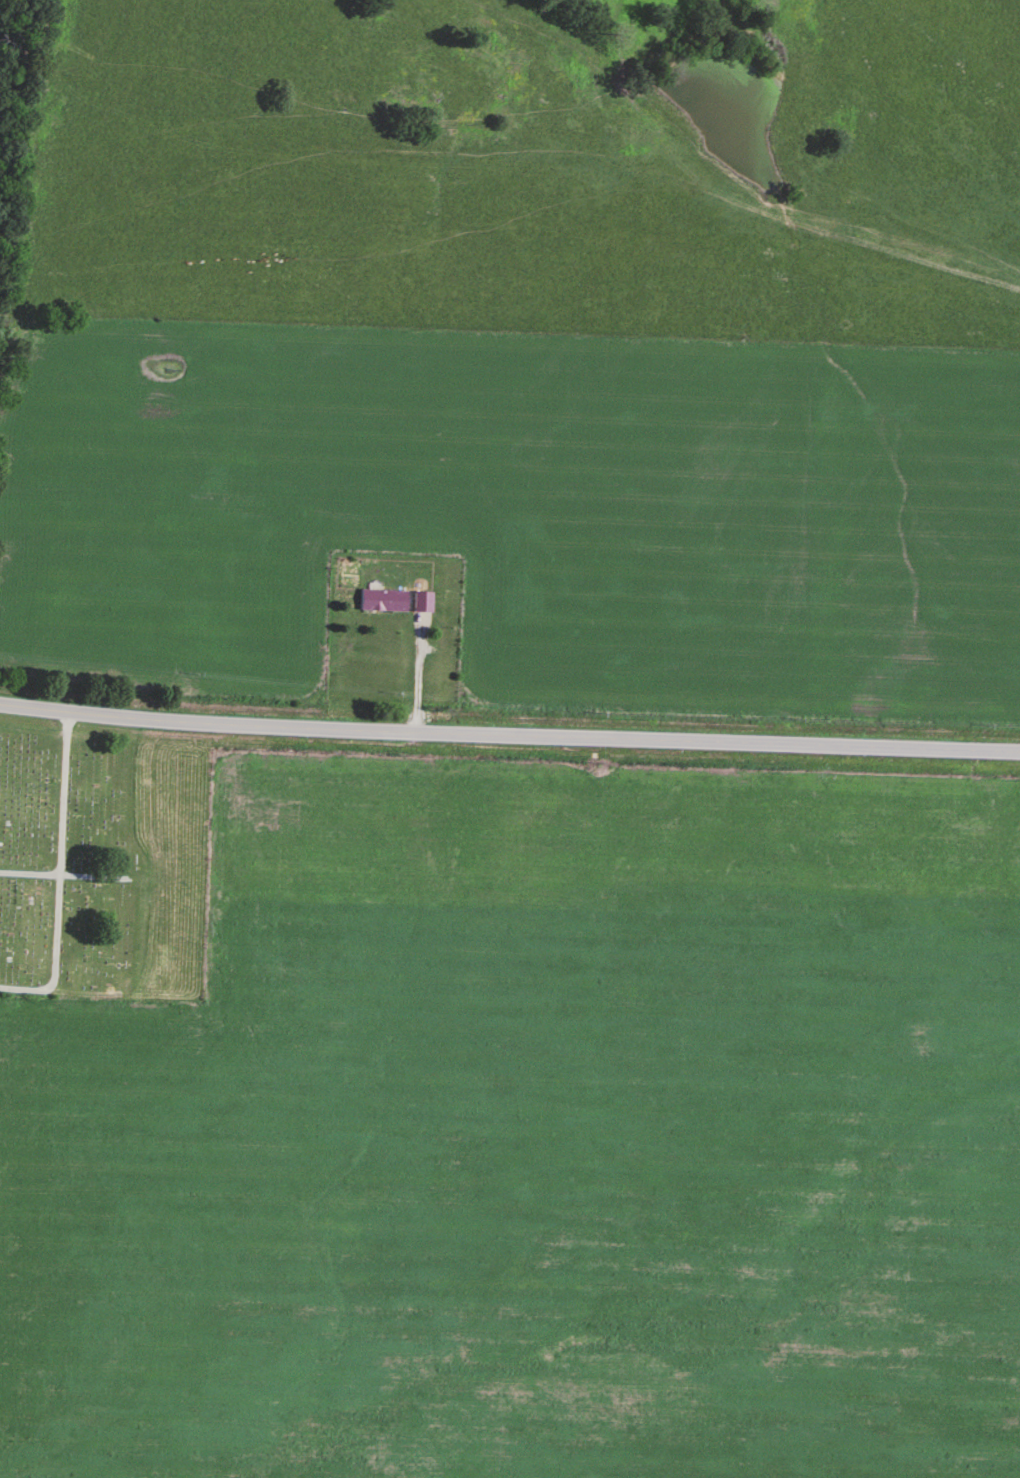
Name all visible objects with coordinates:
building: (382, 602)
building: (421, 604)
road: (416, 677)
road: (509, 736)
park: (103, 866)
road: (58, 877)

